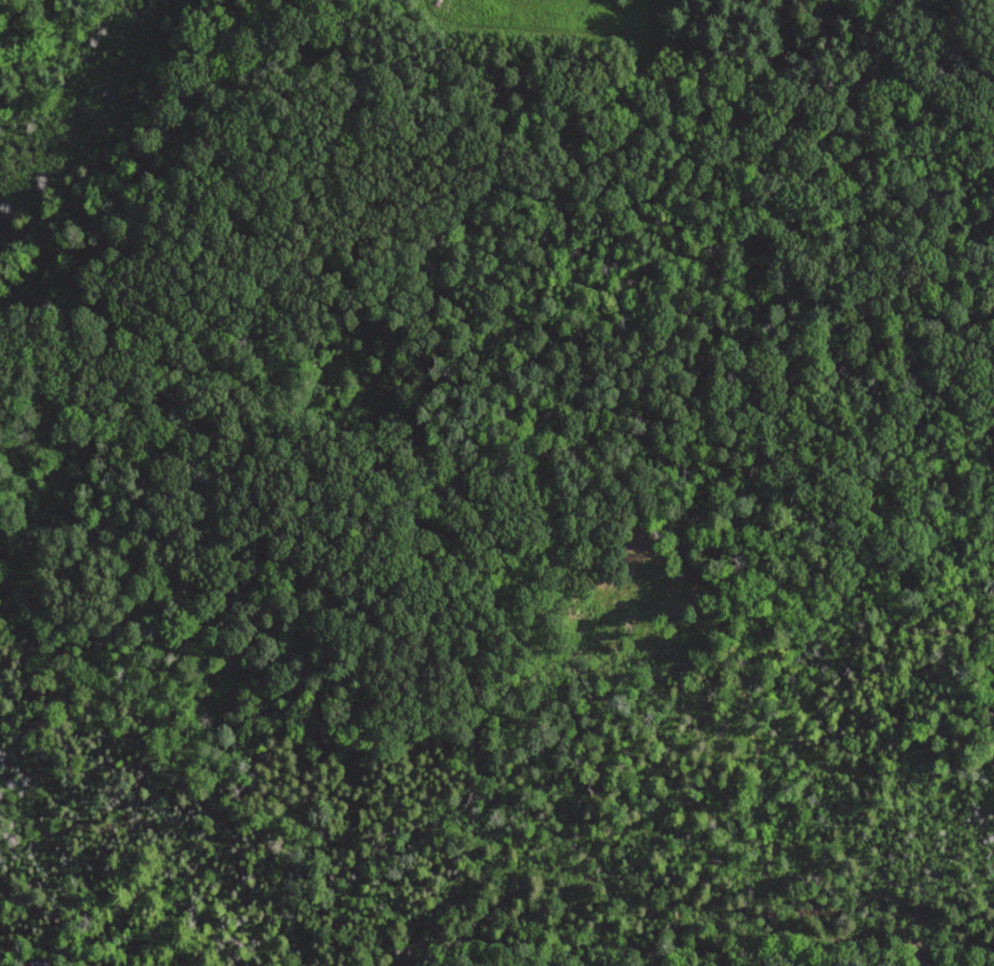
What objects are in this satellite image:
building: (42, 963)

